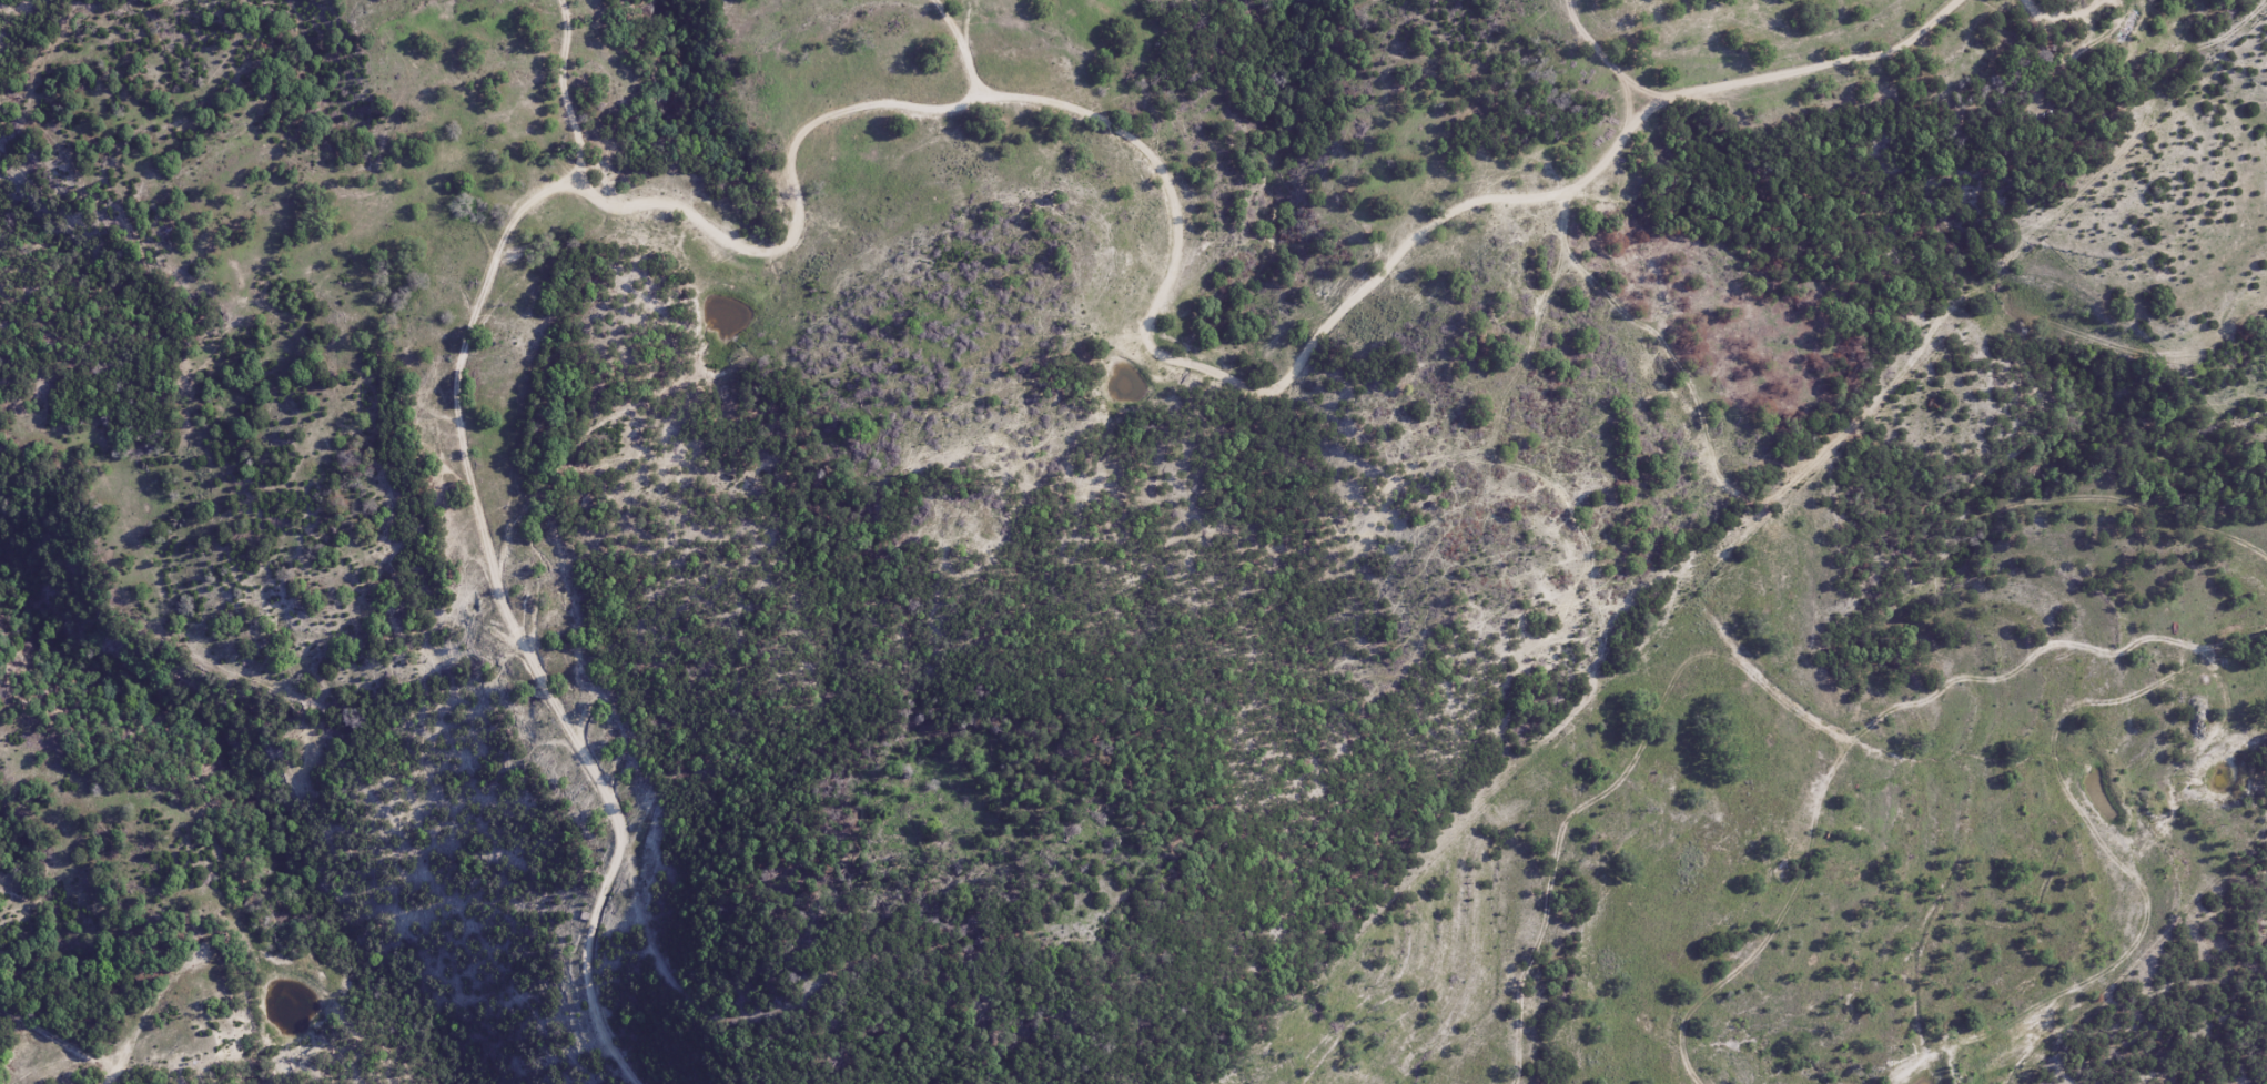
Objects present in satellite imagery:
road: (972, 40)
road: (1389, 272)
road: (474, 371)
road: (113, 910)
road: (61, 1045)

